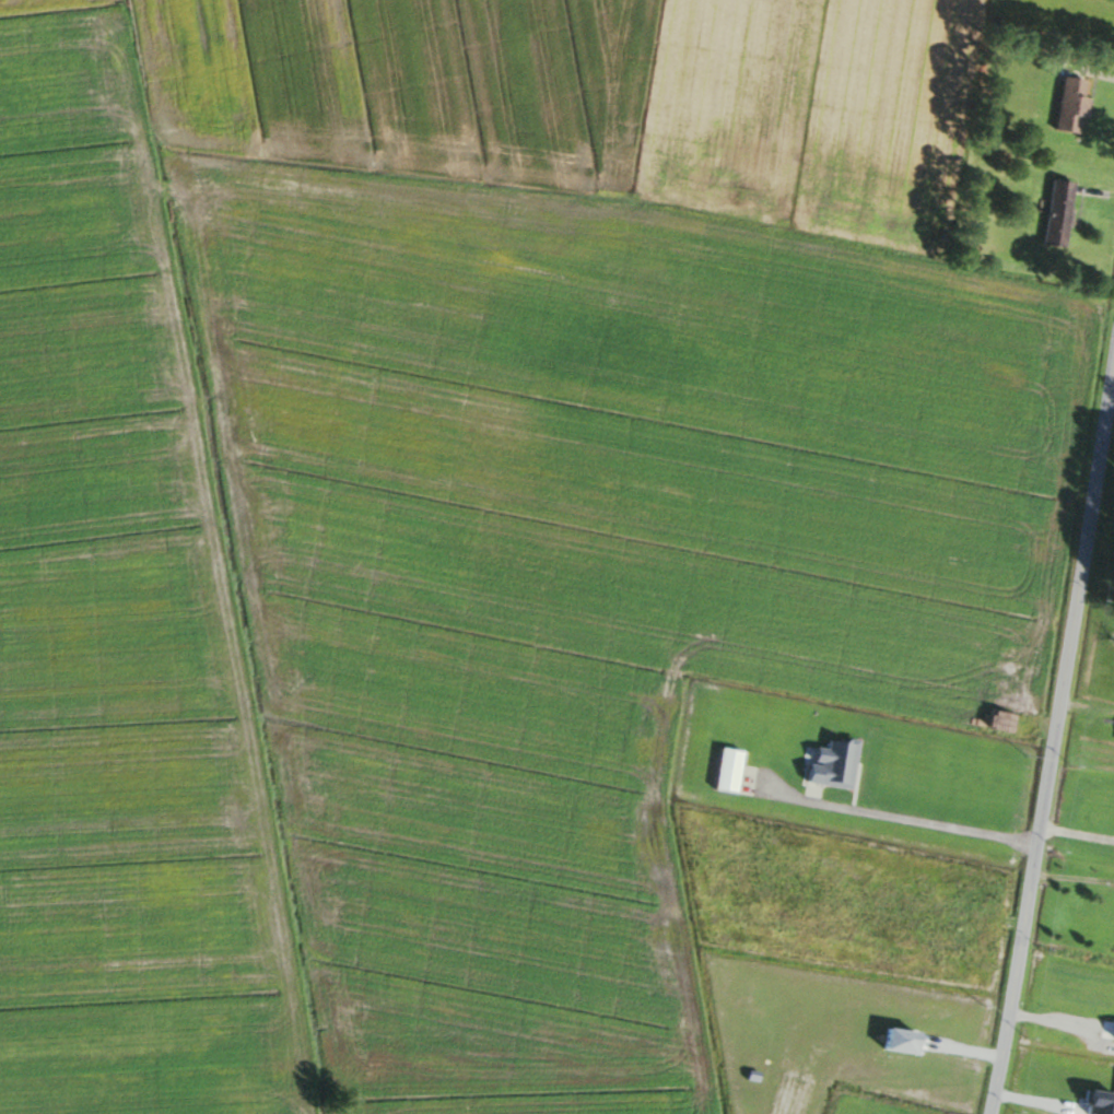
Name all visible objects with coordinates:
building: (1067, 104)
building: (1053, 212)
road: (1055, 729)
building: (1113, 738)
road: (915, 820)
road: (1075, 832)
road: (1072, 877)

